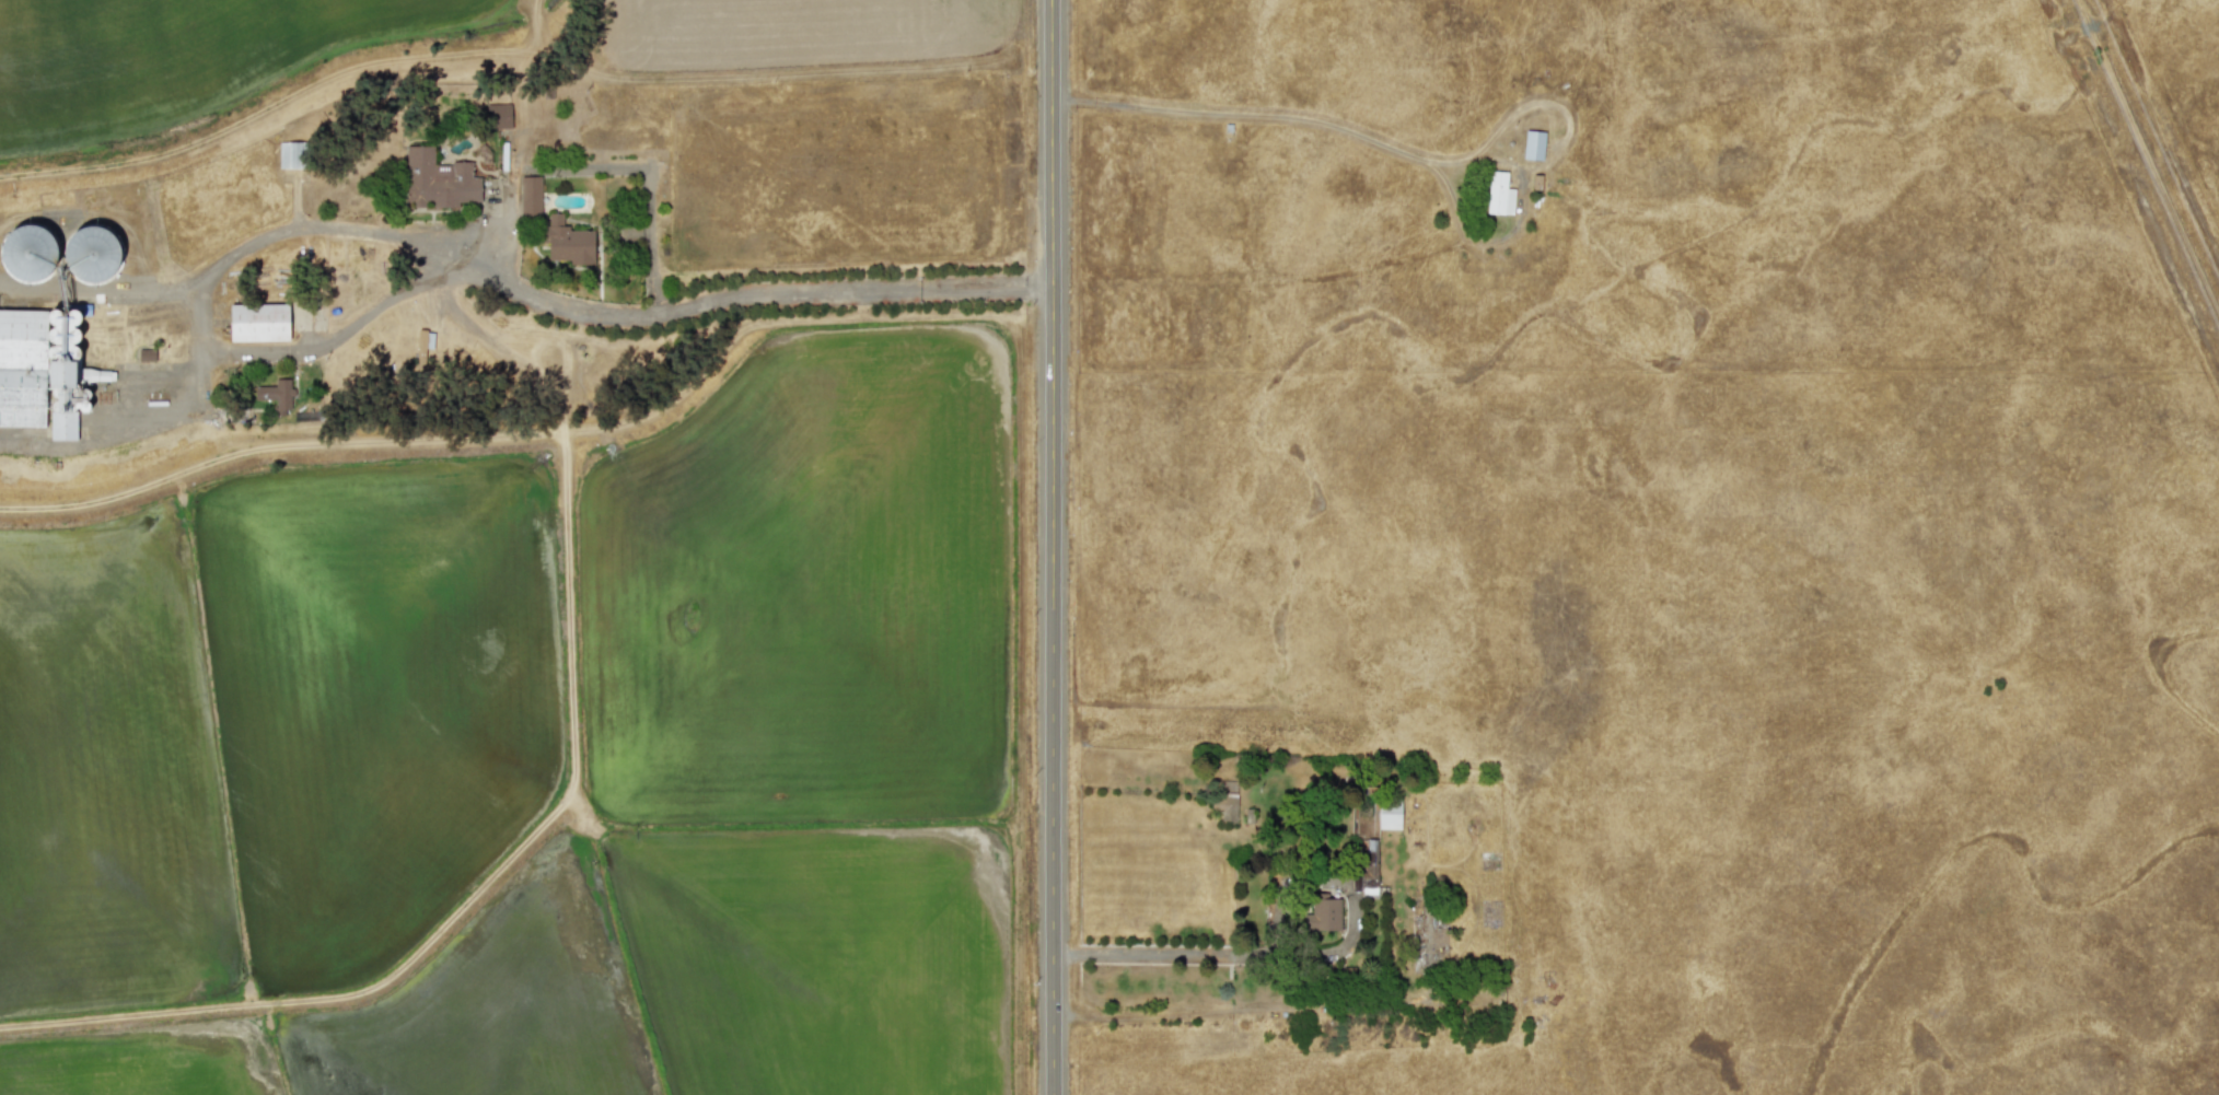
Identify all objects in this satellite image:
building: (498, 116)
road: (1381, 144)
building: (1533, 145)
building: (290, 155)
road: (599, 167)
building: (438, 179)
building: (1498, 194)
building: (530, 197)
building: (566, 242)
building: (28, 253)
road: (442, 254)
building: (258, 323)
building: (419, 353)
building: (39, 373)
building: (274, 391)
road: (1050, 547)
crop: (569, 617)
building: (1224, 799)
building: (1389, 815)
building: (1369, 864)
building: (1322, 915)
road: (1233, 956)

